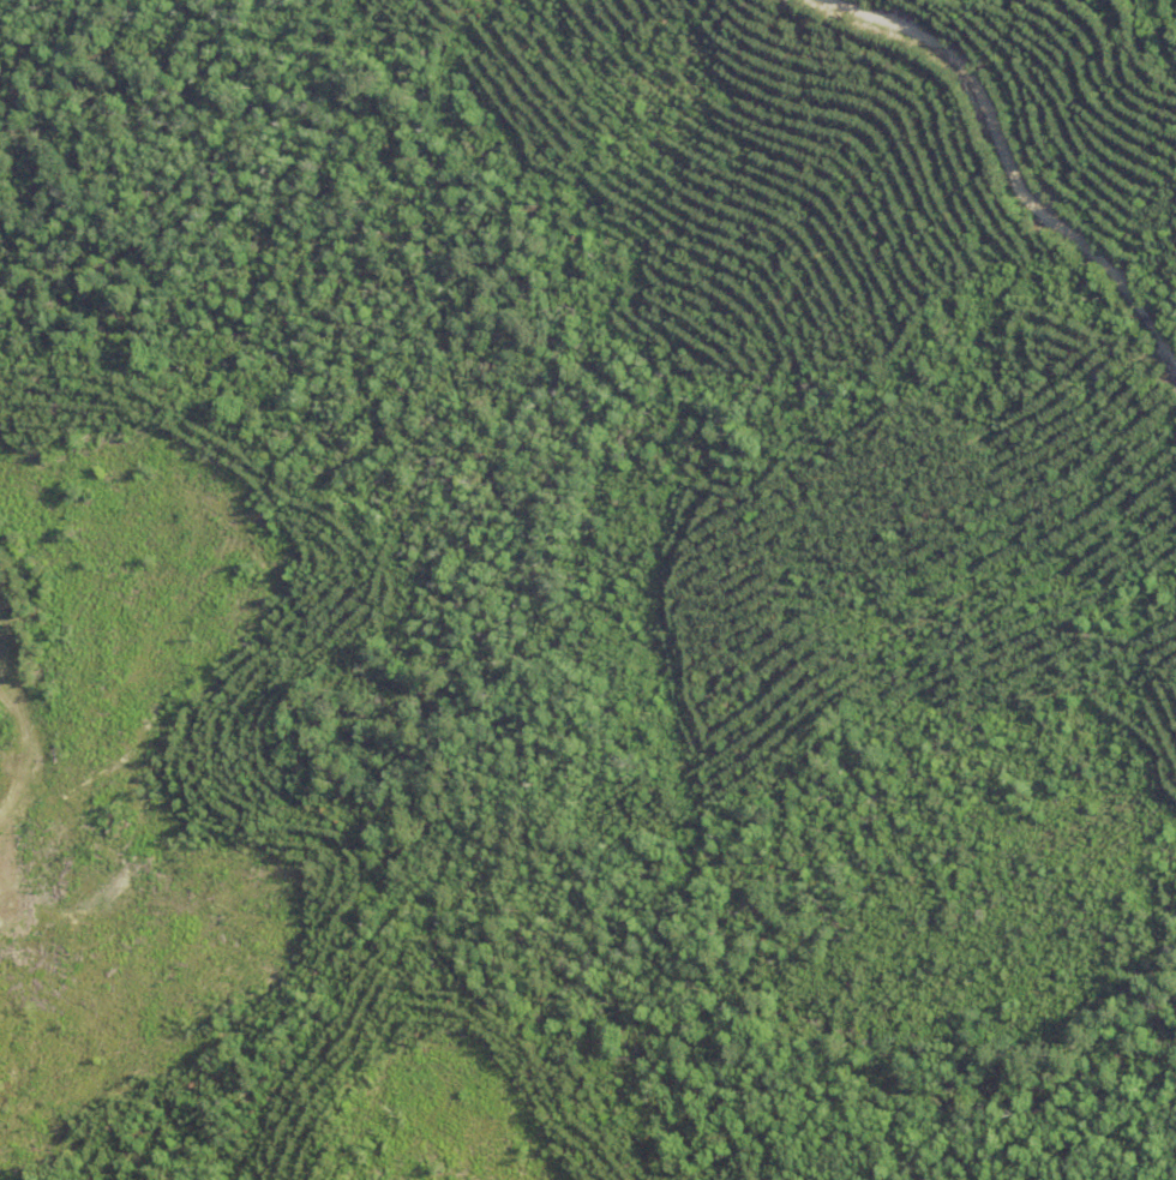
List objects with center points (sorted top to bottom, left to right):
road: (1002, 150)

